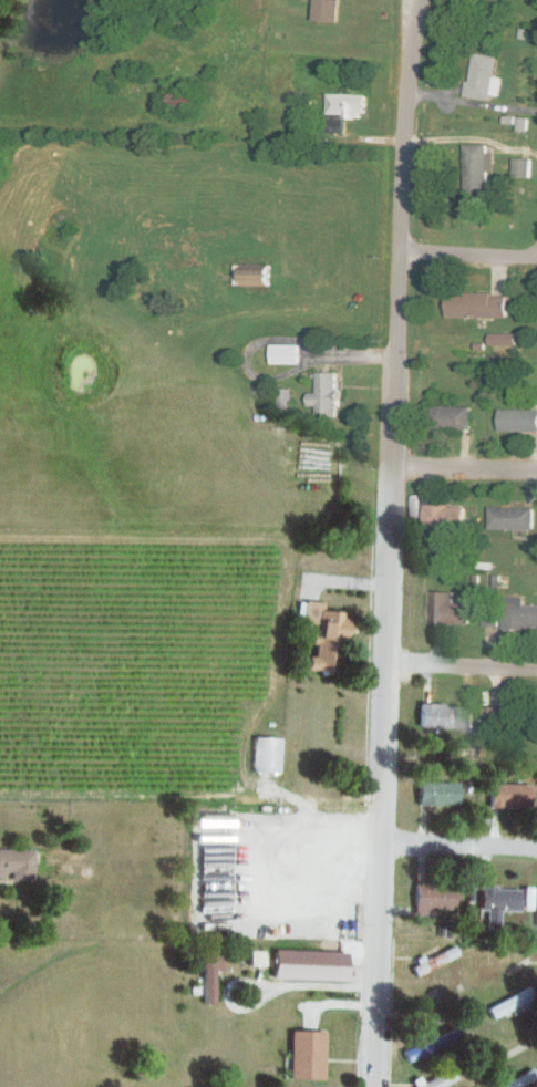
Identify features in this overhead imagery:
building: (327, 11)
road: (406, 21)
building: (483, 77)
building: (182, 101)
building: (343, 111)
building: (521, 124)
road: (194, 131)
road: (389, 142)
building: (521, 167)
building: (476, 170)
road: (469, 253)
building: (255, 276)
building: (476, 306)
building: (502, 340)
building: (283, 354)
building: (324, 396)
building: (283, 400)
building: (451, 417)
building: (517, 421)
road: (464, 468)
building: (444, 517)
building: (510, 518)
road: (389, 542)
building: (448, 609)
building: (520, 613)
building: (493, 619)
building: (322, 634)
road: (459, 670)
building: (445, 716)
building: (508, 720)
building: (266, 754)
building: (435, 793)
building: (506, 795)
building: (216, 851)
road: (457, 851)
building: (14, 865)
building: (431, 899)
building: (495, 904)
building: (536, 910)
building: (308, 965)
building: (206, 974)
road: (238, 986)
road: (326, 990)
building: (509, 1004)
building: (424, 1044)
building: (303, 1055)
building: (433, 1080)

